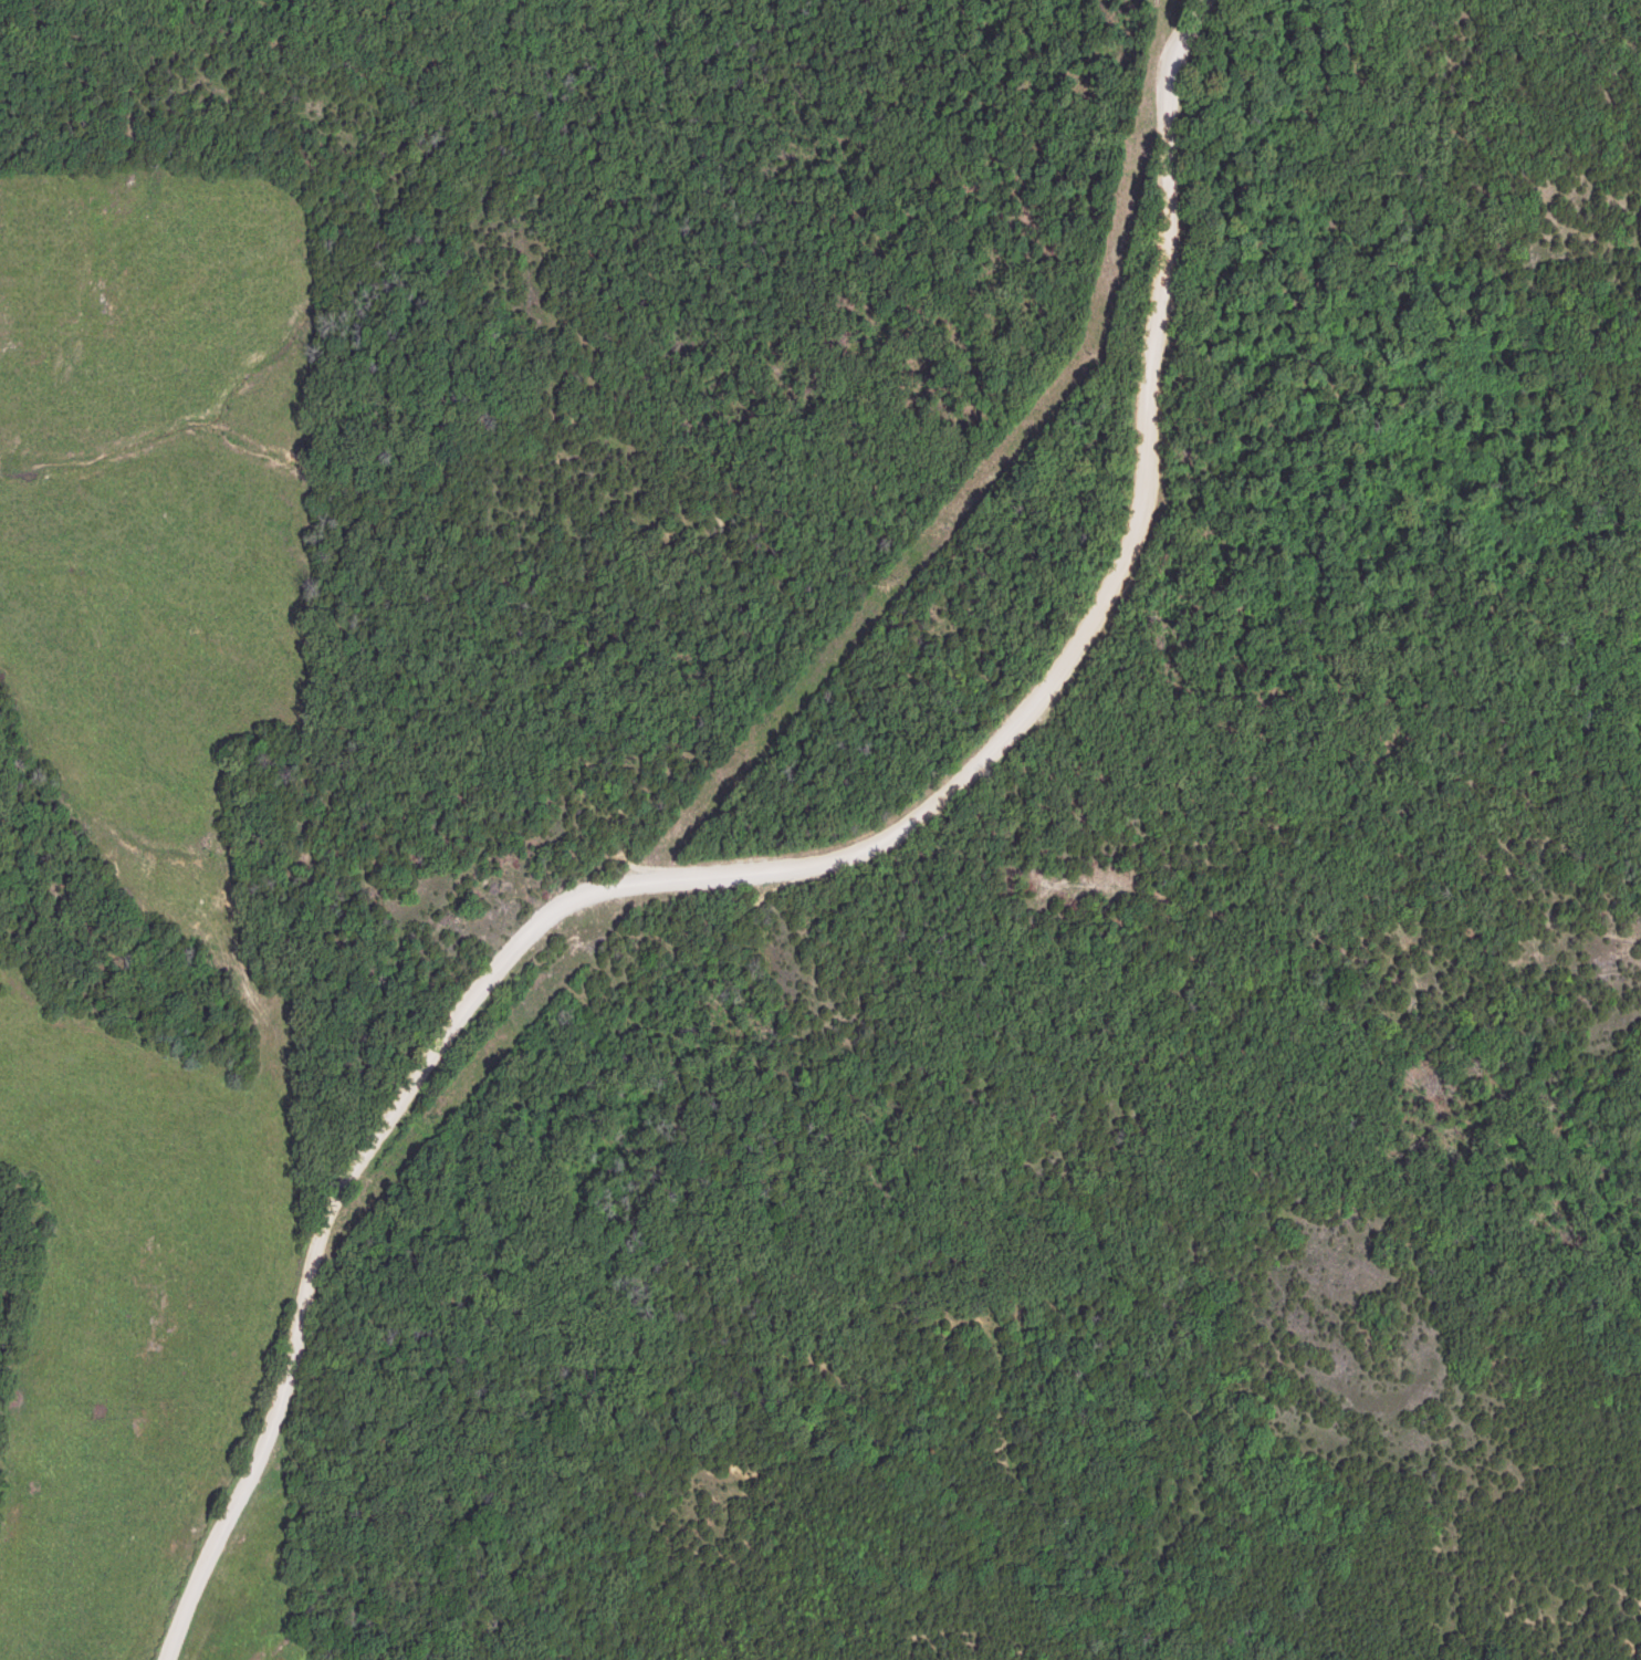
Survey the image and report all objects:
road: (763, 869)

